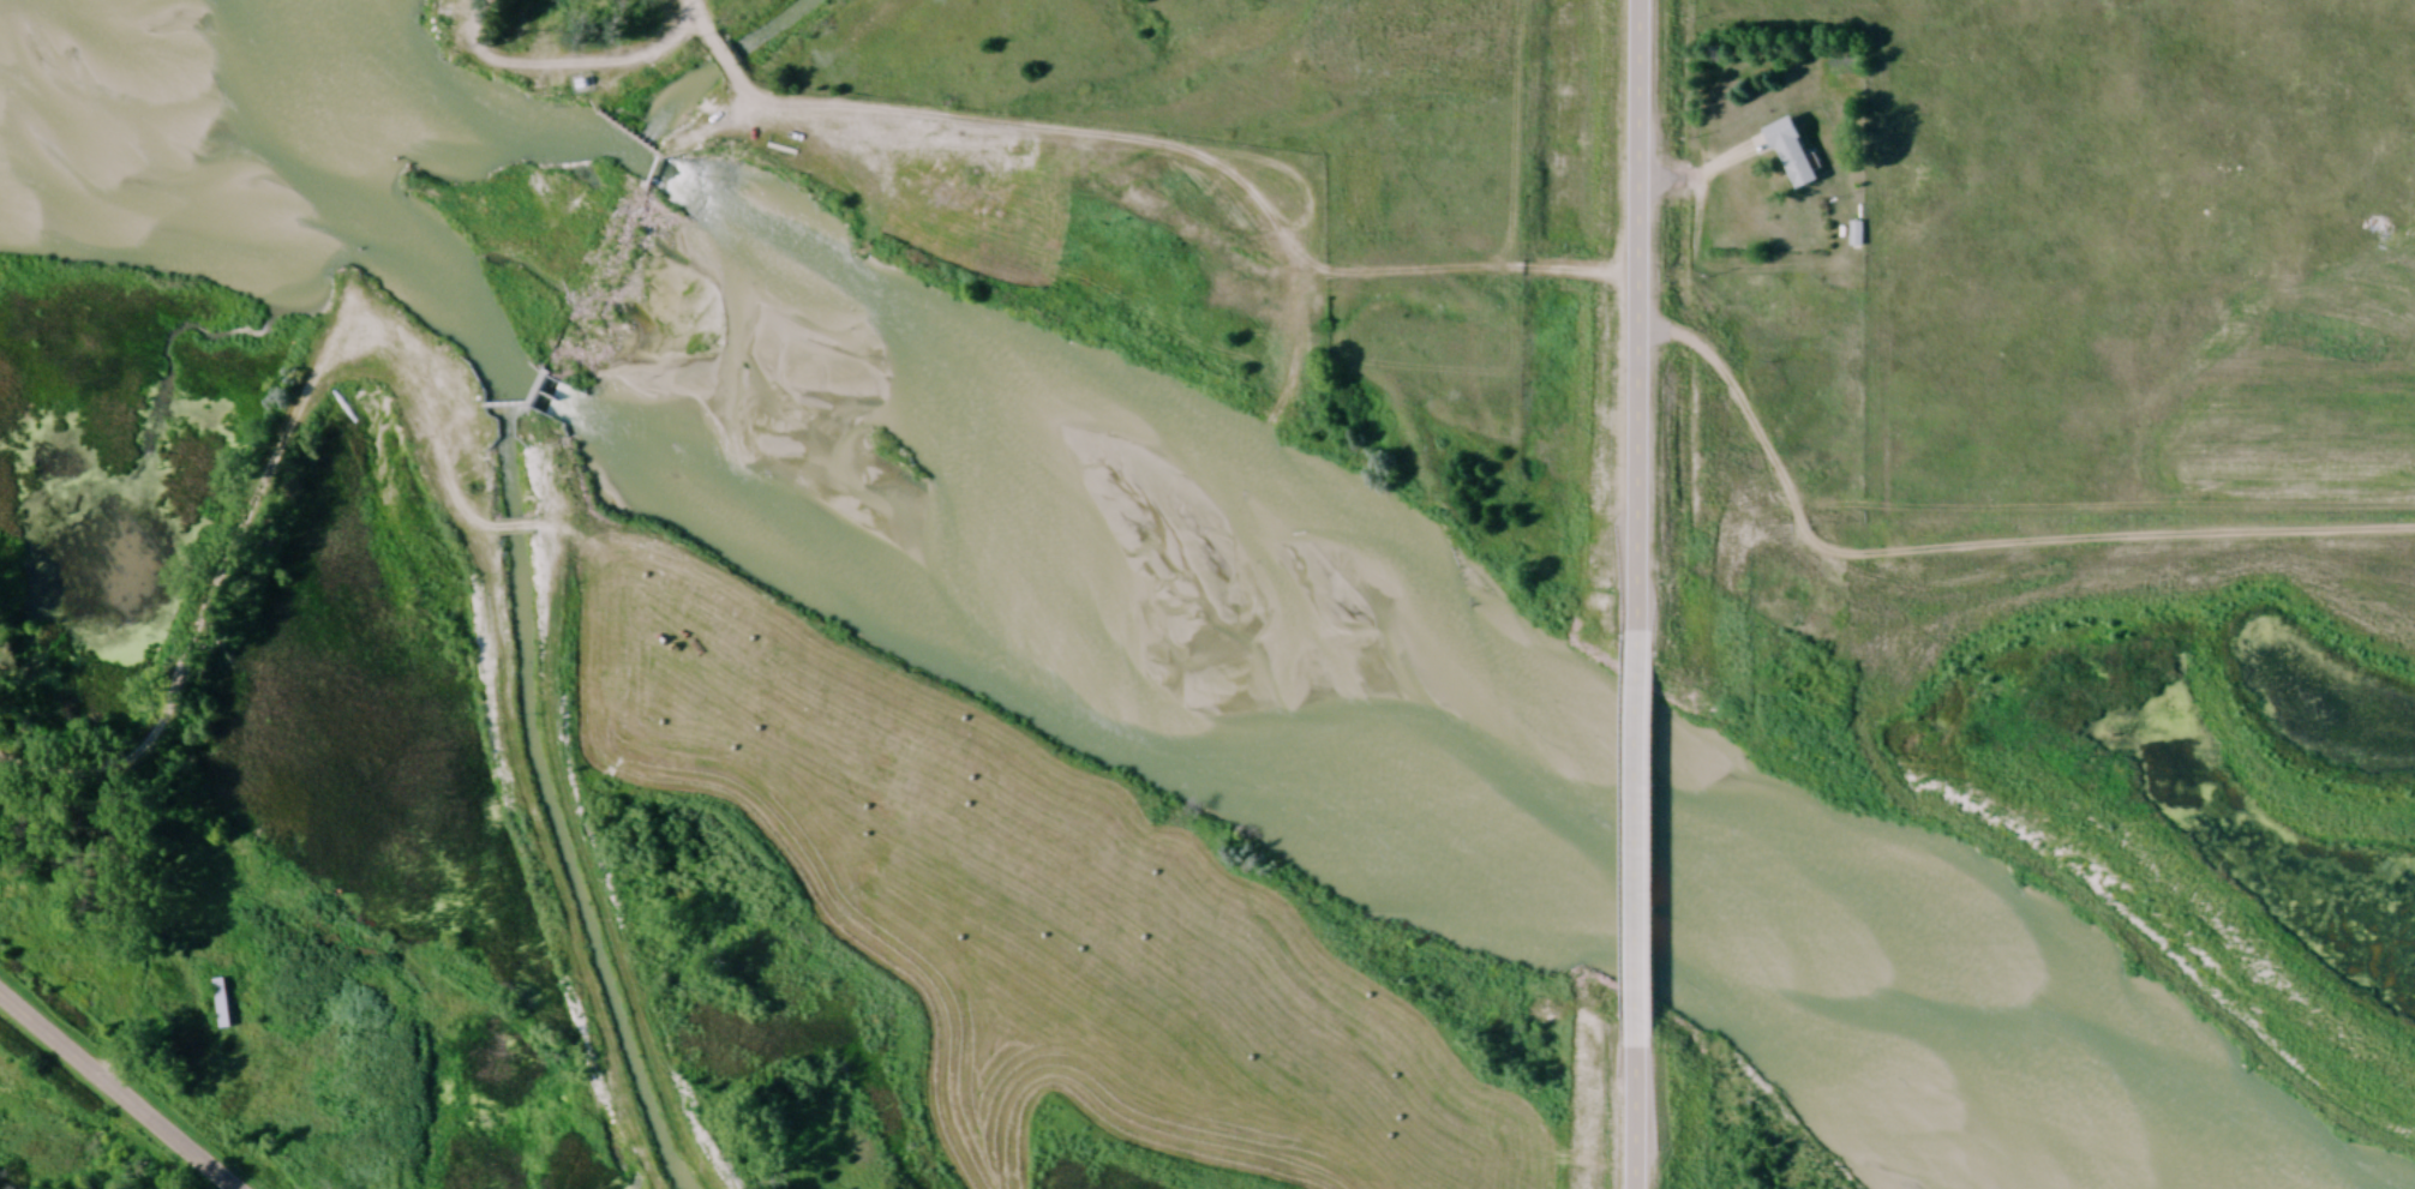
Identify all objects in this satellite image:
road: (703, 20)
road: (467, 22)
road: (729, 67)
road: (888, 140)
building: (1794, 155)
road: (1698, 223)
road: (1634, 316)
river: (1008, 378)
road: (221, 584)
river: (1099, 626)
road: (1642, 834)
building: (223, 1005)
road: (113, 1092)
road: (1641, 1112)
road: (108, 1143)

